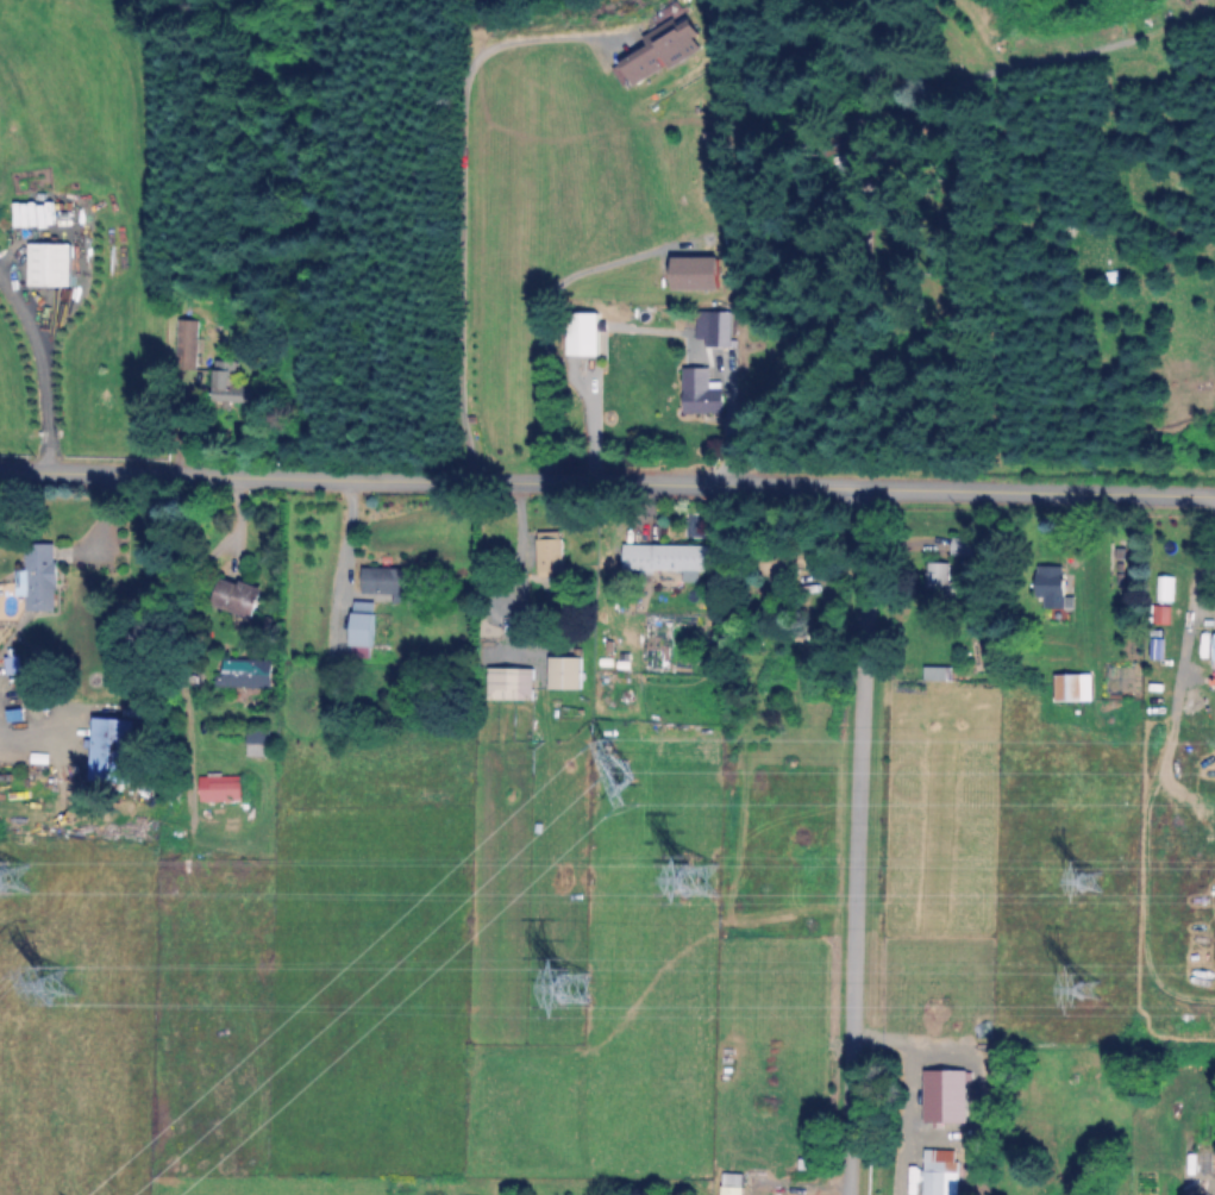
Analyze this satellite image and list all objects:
building: (647, 62)
road: (457, 201)
building: (52, 262)
building: (703, 273)
road: (547, 315)
building: (720, 326)
building: (588, 333)
road: (44, 365)
building: (699, 384)
building: (234, 386)
road: (607, 483)
road: (100, 515)
building: (550, 553)
building: (668, 555)
road: (347, 556)
road: (505, 561)
building: (39, 569)
building: (1056, 592)
building: (243, 594)
building: (367, 622)
building: (244, 671)
building: (565, 671)
building: (939, 671)
building: (512, 682)
building: (1075, 687)
building: (258, 743)
building: (117, 747)
power tower: (619, 774)
building: (223, 787)
road: (856, 840)
power tower: (11, 876)
power tower: (701, 880)
power tower: (1091, 881)
power tower: (575, 986)
power tower: (58, 987)
power tower: (1091, 989)
building: (939, 1171)
building: (732, 1183)

